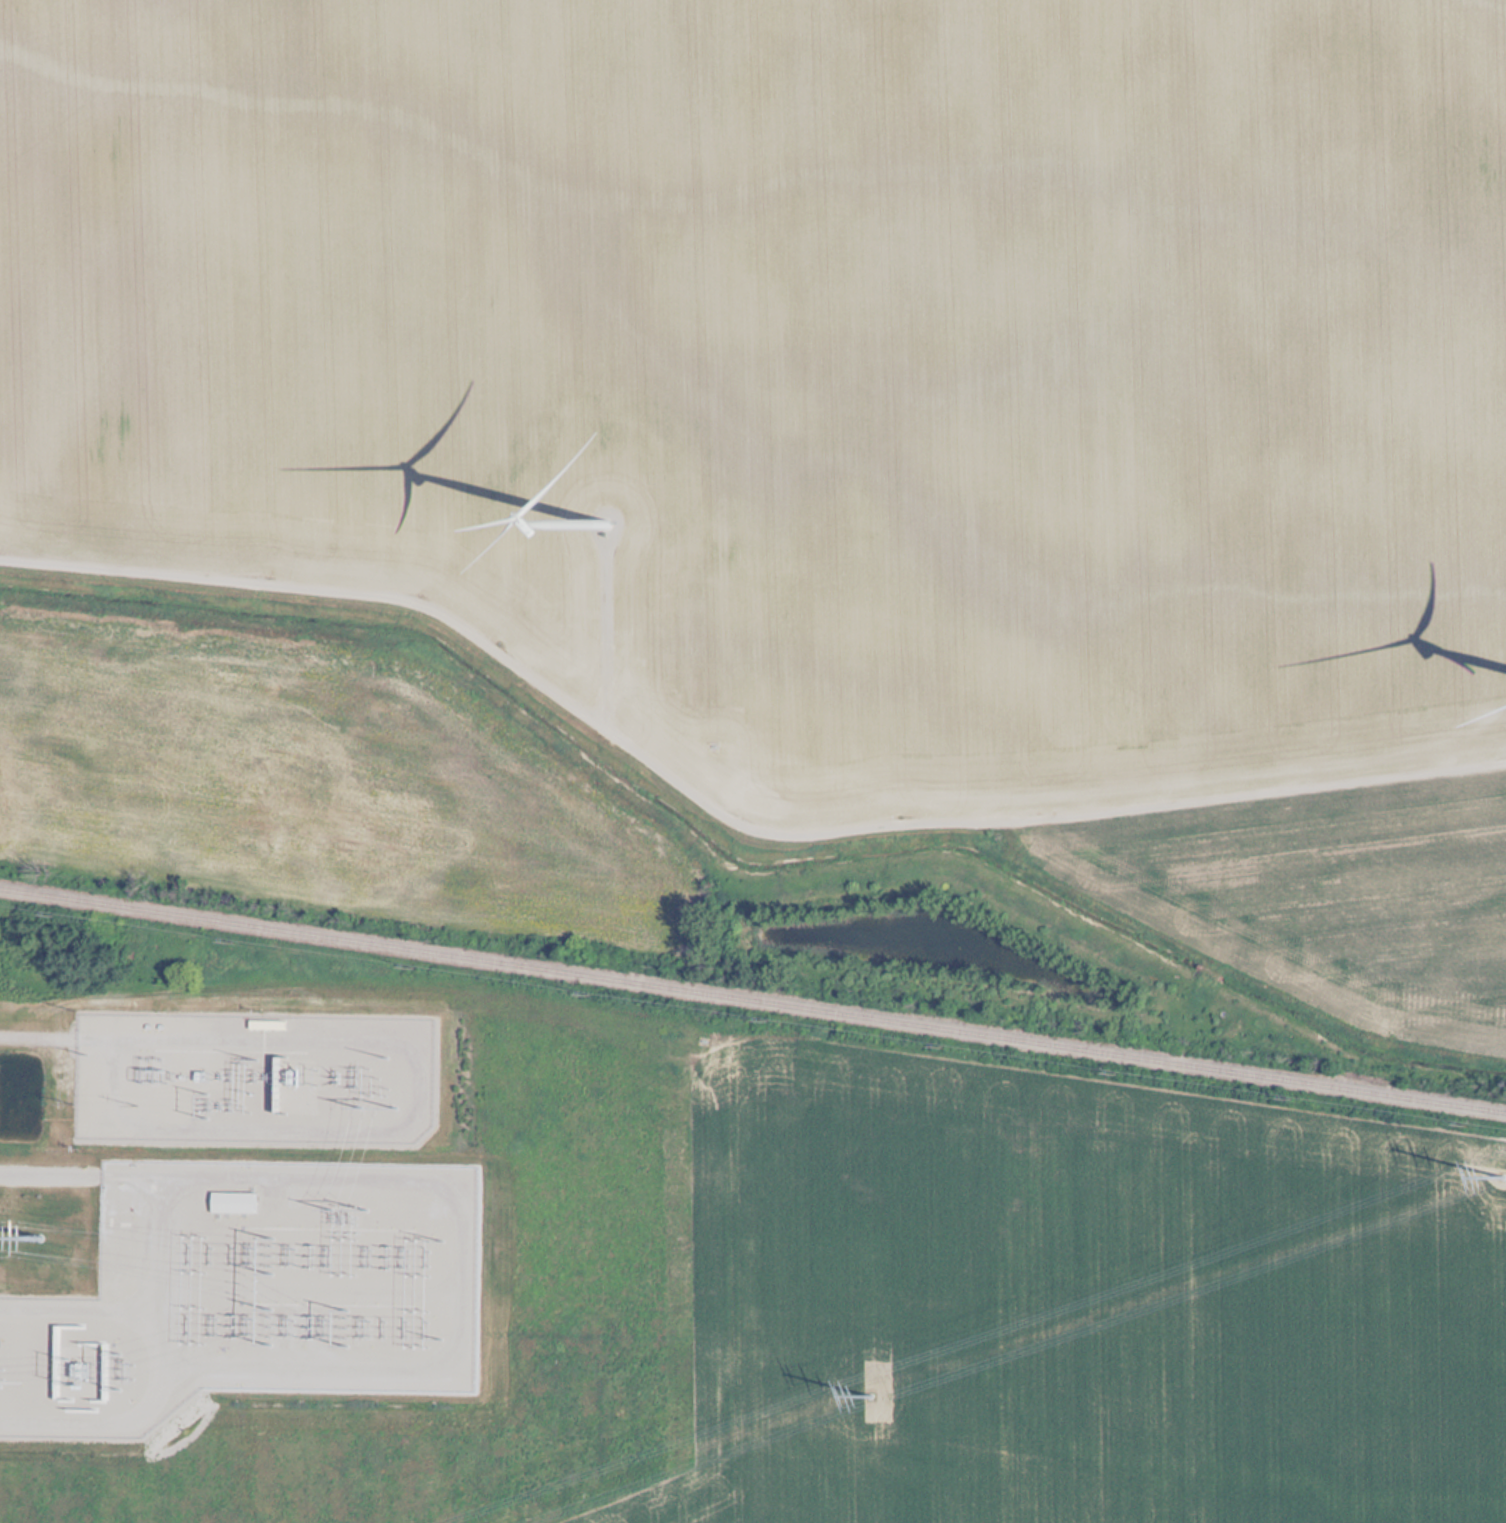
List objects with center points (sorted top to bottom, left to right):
wind turbine: (603, 522)
railway: (753, 1001)
road: (42, 1037)
power substation: (260, 1076)
road: (55, 1175)
building: (242, 1200)
power tower: (35, 1238)
power substation: (255, 1292)
power tower: (873, 1398)

